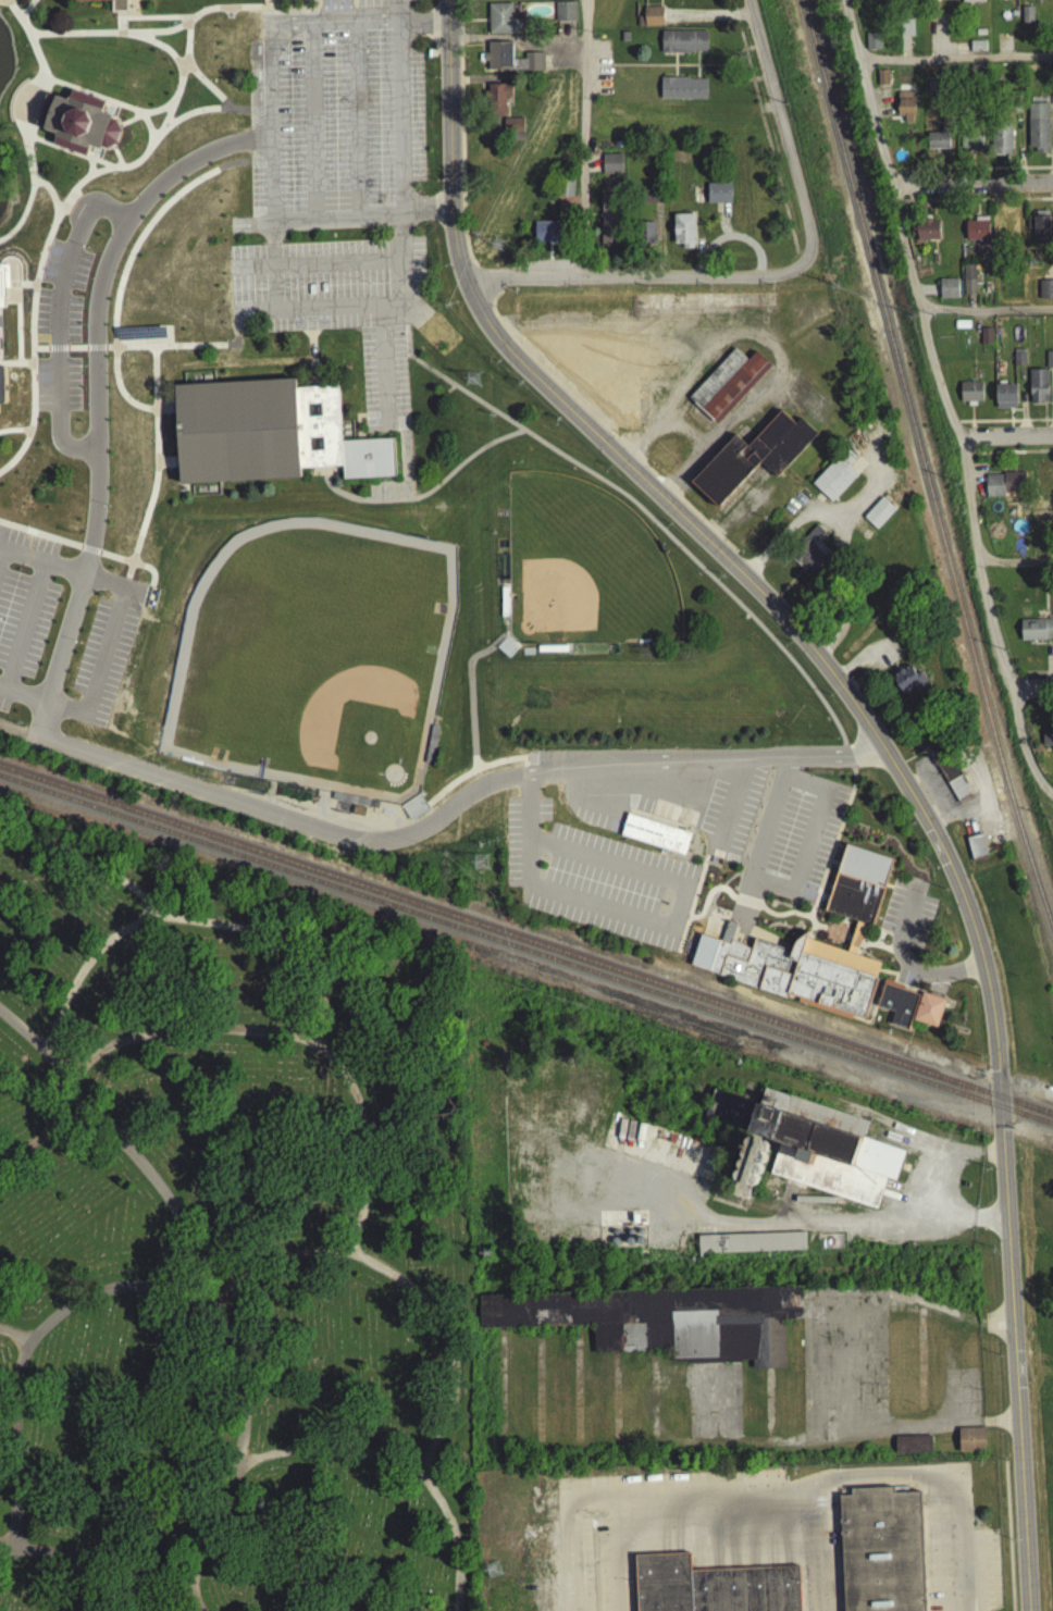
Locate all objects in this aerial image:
road: (481, 0)
building: (1027, 0)
building: (1004, 1)
road: (317, 2)
building: (939, 2)
road: (276, 3)
building: (971, 3)
road: (9, 5)
building: (106, 5)
road: (264, 5)
road: (659, 8)
road: (12, 9)
road: (251, 9)
road: (10, 10)
road: (26, 11)
road: (224, 12)
road: (296, 12)
building: (565, 16)
road: (664, 17)
road: (134, 18)
road: (413, 20)
road: (706, 20)
building: (1026, 20)
road: (119, 21)
road: (21, 22)
building: (652, 22)
road: (186, 24)
road: (162, 25)
building: (501, 25)
building: (639, 25)
building: (905, 33)
road: (32, 34)
road: (565, 35)
road: (120, 36)
road: (98, 38)
building: (623, 41)
road: (515, 42)
road: (153, 45)
road: (429, 45)
building: (872, 46)
building: (682, 47)
road: (186, 50)
road: (755, 51)
building: (977, 51)
road: (747, 53)
road: (743, 54)
road: (271, 55)
building: (428, 58)
building: (510, 63)
road: (959, 64)
road: (666, 71)
road: (673, 71)
road: (696, 71)
road: (720, 72)
parking lot: (599, 73)
road: (723, 74)
road: (729, 77)
road: (764, 82)
building: (882, 83)
road: (476, 84)
road: (756, 84)
road: (752, 85)
road: (58, 87)
road: (205, 88)
road: (179, 94)
building: (681, 94)
building: (498, 104)
road: (770, 109)
road: (761, 111)
building: (905, 111)
road: (357, 114)
road: (145, 116)
road: (313, 116)
road: (259, 117)
road: (165, 119)
road: (244, 119)
road: (759, 123)
building: (78, 127)
road: (24, 128)
road: (146, 129)
building: (512, 129)
road: (761, 129)
building: (1038, 133)
road: (151, 134)
road: (461, 138)
road: (581, 140)
road: (783, 140)
building: (937, 145)
building: (971, 145)
building: (1001, 146)
road: (40, 147)
road: (141, 160)
road: (86, 163)
road: (259, 166)
building: (610, 169)
road: (591, 170)
road: (88, 171)
road: (108, 176)
road: (976, 184)
building: (563, 193)
parking lot: (337, 197)
building: (717, 197)
road: (359, 209)
road: (398, 222)
road: (721, 224)
building: (608, 226)
building: (1038, 234)
building: (682, 235)
building: (552, 236)
building: (976, 236)
building: (646, 238)
road: (740, 241)
power tower: (497, 250)
road: (795, 258)
road: (295, 259)
road: (795, 261)
road: (270, 263)
road: (697, 263)
road: (16, 267)
road: (795, 268)
road: (125, 270)
road: (476, 274)
road: (629, 282)
road: (487, 284)
building: (970, 285)
building: (3, 287)
road: (24, 289)
building: (947, 294)
building: (1045, 295)
road: (255, 308)
building: (683, 309)
road: (96, 312)
road: (308, 313)
road: (17, 315)
road: (988, 315)
road: (55, 322)
road: (236, 324)
road: (30, 327)
road: (309, 329)
parking lot: (58, 332)
building: (139, 338)
solar farm: (139, 338)
road: (168, 343)
road: (172, 350)
road: (75, 352)
road: (94, 352)
road: (38, 354)
road: (55, 354)
road: (85, 356)
road: (310, 363)
building: (1018, 363)
building: (1049, 364)
road: (15, 369)
building: (597, 374)
road: (152, 383)
power tower: (472, 383)
road: (301, 387)
building: (727, 388)
building: (2, 389)
building: (1038, 392)
road: (951, 398)
building: (970, 398)
building: (1005, 401)
road: (602, 431)
road: (22, 434)
road: (13, 435)
railway: (917, 436)
road: (1009, 436)
building: (268, 439)
building: (752, 460)
road: (154, 461)
road: (165, 468)
building: (835, 481)
building: (1004, 490)
road: (423, 499)
building: (878, 518)
road: (652, 526)
road: (39, 538)
road: (705, 546)
road: (79, 552)
road: (88, 554)
building: (810, 557)
road: (2, 562)
road: (39, 566)
road: (1017, 567)
road: (140, 570)
park: (582, 572)
road: (21, 629)
parking lot: (60, 634)
building: (1036, 635)
road: (103, 652)
road: (57, 659)
park: (313, 662)
building: (907, 686)
road: (469, 690)
road: (1033, 691)
road: (22, 698)
building: (1046, 740)
road: (739, 763)
road: (475, 768)
road: (474, 774)
building: (949, 776)
road: (523, 777)
road: (528, 782)
road: (474, 794)
road: (852, 797)
road: (219, 798)
parking lot: (668, 804)
road: (584, 806)
road: (733, 807)
parking lot: (596, 808)
road: (677, 808)
parking lot: (728, 819)
building: (654, 840)
parking lot: (793, 841)
building: (976, 852)
road: (831, 854)
road: (711, 857)
road: (86, 858)
power tower: (480, 867)
parking lot: (595, 884)
road: (659, 885)
building: (857, 890)
road: (775, 895)
railway: (1043, 897)
road: (691, 900)
road: (706, 903)
road: (745, 906)
road: (690, 909)
road: (747, 912)
parking lot: (908, 918)
road: (679, 919)
road: (728, 919)
road: (782, 919)
road: (734, 926)
road: (716, 927)
road: (891, 935)
building: (727, 938)
road: (834, 941)
railway: (525, 945)
railway: (499, 947)
road: (297, 949)
road: (874, 950)
road: (882, 953)
road: (818, 955)
building: (703, 957)
road: (893, 957)
road: (905, 966)
road: (865, 971)
building: (801, 979)
road: (938, 991)
road: (905, 996)
building: (896, 1008)
building: (928, 1015)
road: (186, 1026)
road: (52, 1057)
railway: (1026, 1119)
road: (45, 1133)
building: (807, 1151)
road: (940, 1187)
road: (170, 1197)
road: (771, 1217)
park: (228, 1244)
building: (750, 1247)
power tower: (488, 1251)
road: (407, 1282)
road: (115, 1287)
building: (661, 1325)
road: (1013, 1355)
road: (241, 1379)
road: (12, 1437)
building: (970, 1445)
road: (339, 1448)
building: (912, 1449)
road: (806, 1483)
road: (1007, 1538)
road: (818, 1546)
building: (878, 1552)
road: (119, 1559)
power tower: (494, 1567)
building: (711, 1588)

